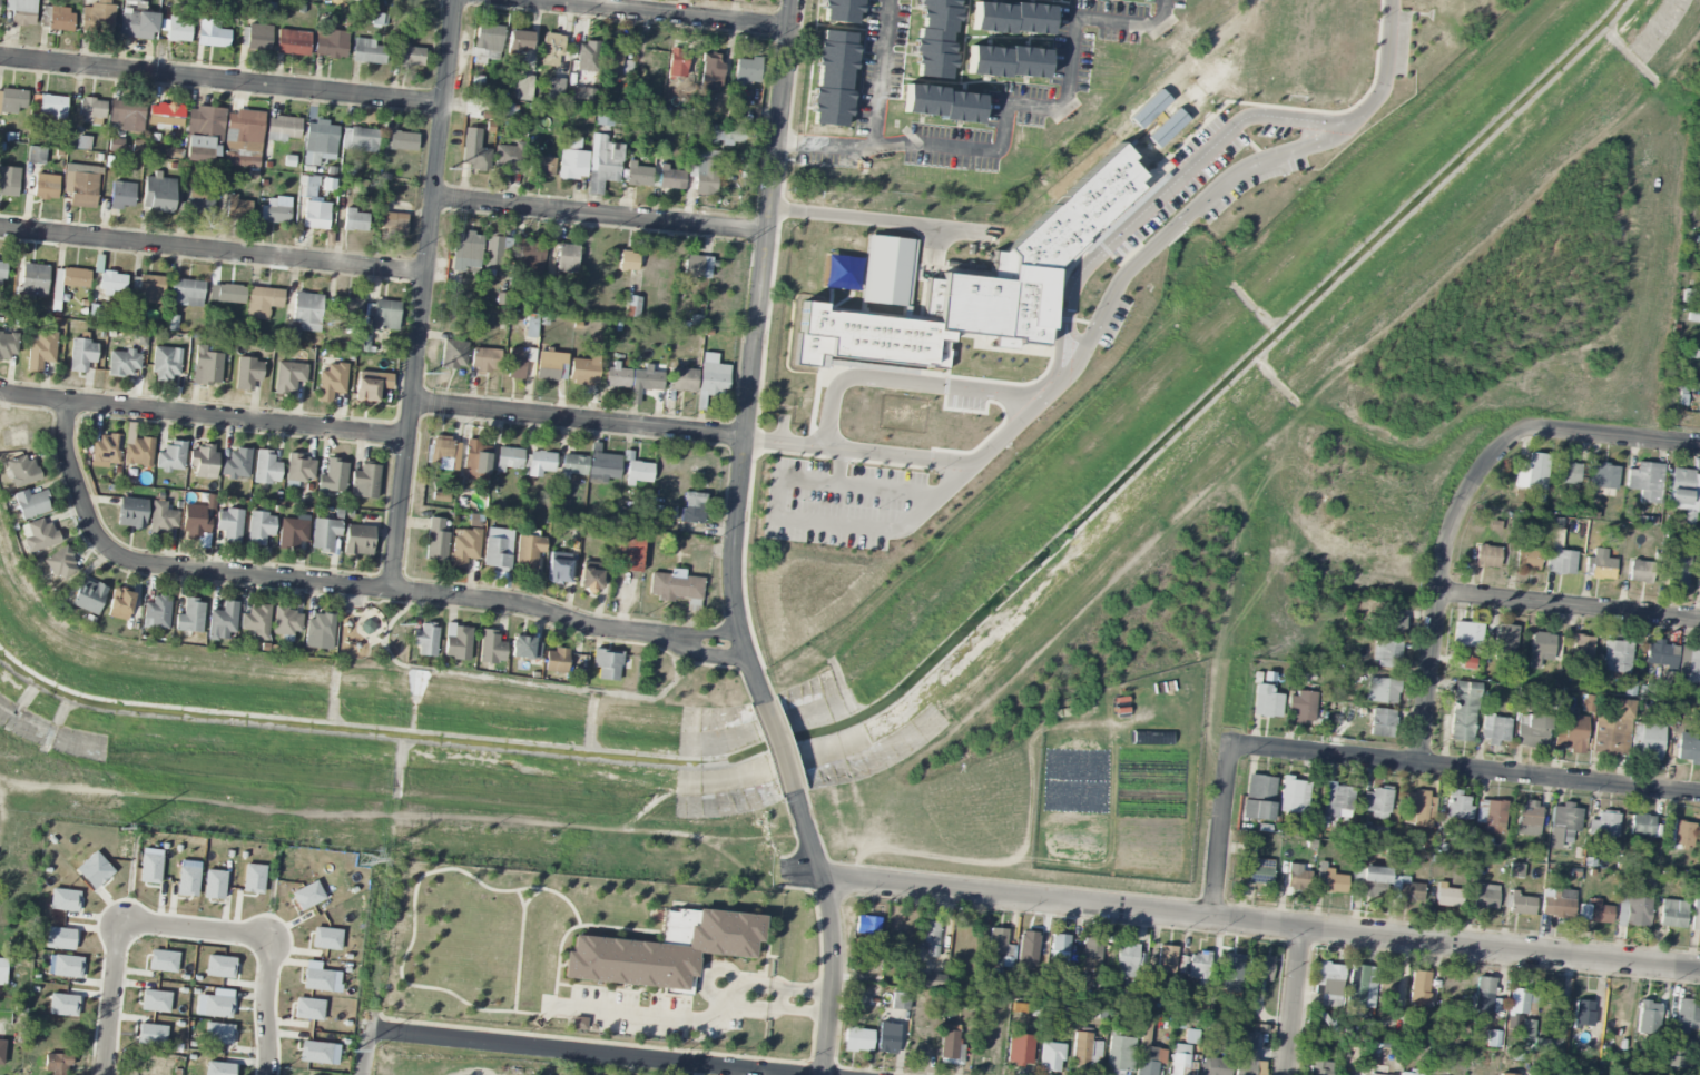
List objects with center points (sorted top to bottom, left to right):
building: (131, 1)
building: (21, 11)
building: (842, 11)
road: (657, 13)
building: (57, 18)
building: (1011, 18)
building: (137, 24)
building: (178, 31)
building: (214, 34)
building: (258, 36)
building: (936, 39)
building: (519, 40)
building: (488, 41)
building: (293, 42)
building: (331, 43)
building: (367, 52)
building: (556, 52)
building: (412, 56)
building: (588, 57)
building: (613, 58)
building: (677, 62)
building: (1006, 62)
building: (713, 70)
building: (747, 70)
road: (1386, 70)
road: (880, 73)
building: (833, 79)
road: (222, 80)
building: (524, 88)
building: (554, 90)
building: (12, 100)
building: (942, 103)
building: (50, 110)
building: (91, 111)
building: (128, 115)
building: (165, 115)
road: (1006, 116)
building: (283, 128)
building: (244, 130)
building: (204, 132)
building: (726, 134)
building: (360, 139)
building: (403, 140)
building: (320, 142)
building: (474, 151)
building: (36, 155)
building: (509, 158)
building: (572, 160)
building: (602, 162)
building: (544, 166)
power tower: (451, 168)
building: (705, 172)
building: (639, 175)
building: (671, 178)
building: (9, 181)
building: (81, 185)
building: (46, 186)
building: (307, 187)
building: (158, 194)
building: (122, 195)
road: (1157, 196)
building: (199, 203)
building: (238, 208)
building: (316, 215)
road: (602, 217)
building: (355, 220)
road: (880, 221)
building: (393, 224)
road: (1175, 224)
road: (213, 252)
building: (466, 252)
building: (495, 254)
building: (567, 258)
building: (628, 260)
building: (532, 264)
building: (697, 267)
building: (2, 269)
building: (886, 270)
building: (71, 277)
building: (33, 279)
building: (150, 287)
building: (977, 287)
building: (186, 293)
building: (227, 293)
road: (423, 295)
building: (262, 302)
building: (347, 306)
building: (632, 306)
building: (307, 312)
building: (96, 313)
building: (385, 315)
building: (291, 336)
building: (8, 345)
building: (41, 352)
road: (755, 352)
building: (453, 354)
building: (82, 355)
building: (485, 359)
building: (517, 362)
building: (122, 363)
building: (166, 363)
building: (207, 366)
building: (550, 366)
building: (583, 371)
building: (248, 373)
power tower: (428, 374)
building: (288, 376)
building: (617, 376)
building: (713, 376)
building: (682, 379)
road: (905, 381)
building: (332, 382)
building: (1699, 382)
building: (643, 383)
building: (371, 385)
building: (1699, 407)
road: (204, 414)
road: (579, 421)
road: (1613, 436)
building: (105, 451)
building: (139, 452)
building: (444, 453)
building: (171, 457)
road: (916, 457)
building: (510, 458)
building: (203, 462)
building: (475, 462)
building: (541, 463)
building: (236, 464)
building: (573, 465)
building: (266, 467)
building: (603, 467)
building: (299, 469)
building: (22, 471)
building: (639, 472)
building: (1532, 473)
building: (333, 476)
building: (364, 482)
building: (1645, 482)
building: (1682, 489)
building: (31, 503)
building: (1699, 505)
building: (692, 507)
building: (131, 513)
building: (163, 517)
building: (196, 525)
building: (230, 525)
building: (1555, 526)
building: (259, 527)
building: (293, 531)
building: (324, 534)
building: (38, 535)
building: (357, 540)
building: (436, 540)
building: (464, 548)
building: (498, 549)
building: (529, 551)
building: (629, 554)
building: (1527, 555)
building: (1486, 556)
building: (1560, 561)
building: (60, 564)
building: (1599, 565)
building: (558, 569)
building: (1678, 569)
building: (1641, 572)
building: (590, 579)
road: (1439, 582)
road: (345, 585)
building: (675, 585)
building: (88, 596)
building: (120, 604)
road: (1569, 605)
building: (156, 612)
building: (189, 617)
building: (256, 621)
building: (286, 621)
building: (223, 622)
building: (1394, 624)
power tower: (400, 625)
building: (366, 627)
building: (318, 632)
building: (1467, 634)
building: (425, 639)
building: (458, 642)
building: (1505, 642)
building: (491, 648)
building: (525, 648)
building: (1541, 649)
building: (1582, 651)
building: (1386, 652)
building: (1660, 654)
building: (1617, 657)
building: (556, 661)
building: (1468, 663)
building: (607, 664)
building: (1693, 665)
building: (1382, 691)
building: (1267, 702)
building: (1589, 703)
building: (1301, 707)
building: (1463, 711)
building: (1380, 722)
building: (1611, 727)
building: (1495, 729)
building: (1532, 731)
building: (1569, 732)
building: (1648, 741)
building: (1688, 747)
road: (777, 749)
road: (1466, 768)
building: (1295, 796)
building: (1258, 798)
building: (1338, 801)
building: (1377, 802)
building: (1458, 807)
building: (1418, 809)
building: (1529, 816)
building: (1563, 825)
building: (1604, 825)
building: (1643, 826)
power tower: (121, 828)
road: (1224, 830)
building: (1526, 830)
building: (1375, 831)
building: (1454, 834)
building: (1680, 834)
power tower: (366, 859)
building: (96, 868)
building: (150, 868)
building: (1516, 870)
building: (1259, 871)
building: (254, 878)
building: (1297, 878)
building: (1330, 880)
building: (187, 881)
building: (1373, 881)
building: (214, 885)
building: (1411, 891)
building: (307, 896)
building: (1445, 896)
building: (1485, 896)
building: (65, 900)
building: (1557, 903)
building: (1522, 904)
building: (1640, 906)
building: (1594, 911)
building: (1672, 914)
road: (1239, 920)
building: (1699, 923)
building: (867, 925)
road: (194, 931)
road: (834, 933)
building: (60, 938)
building: (326, 938)
building: (930, 939)
building: (999, 943)
building: (1059, 948)
building: (664, 950)
building: (1026, 950)
building: (1091, 954)
building: (1166, 959)
building: (164, 961)
building: (67, 966)
building: (220, 967)
building: (1198, 968)
building: (1259, 968)
building: (2, 972)
building: (1231, 973)
building: (317, 979)
building: (928, 980)
building: (1452, 983)
building: (1328, 984)
building: (1387, 984)
building: (1362, 986)
road: (777, 987)
building: (1419, 987)
building: (1485, 992)
road: (111, 999)
building: (901, 1000)
building: (156, 1002)
road: (1295, 1002)
building: (1521, 1002)
building: (63, 1005)
building: (217, 1007)
road: (265, 1007)
building: (308, 1009)
road: (776, 1009)
building: (1583, 1013)
road: (643, 1015)
building: (1688, 1015)
building: (1648, 1017)
building: (579, 1024)
building: (1527, 1029)
building: (218, 1034)
building: (151, 1035)
building: (1220, 1036)
building: (887, 1038)
building: (1493, 1038)
building: (857, 1039)
building: (949, 1042)
power tower: (352, 1047)
building: (1020, 1049)
building: (1085, 1051)
building: (2, 1052)
building: (315, 1052)
road: (363, 1052)
road: (574, 1052)
building: (1051, 1052)
building: (1148, 1053)
building: (1120, 1054)
building: (1247, 1056)
building: (1179, 1059)
building: (58, 1063)
building: (1215, 1066)
building: (219, 1068)
building: (1319, 1068)
building: (1372, 1074)
building: (1411, 1074)
building: (1506, 1074)

